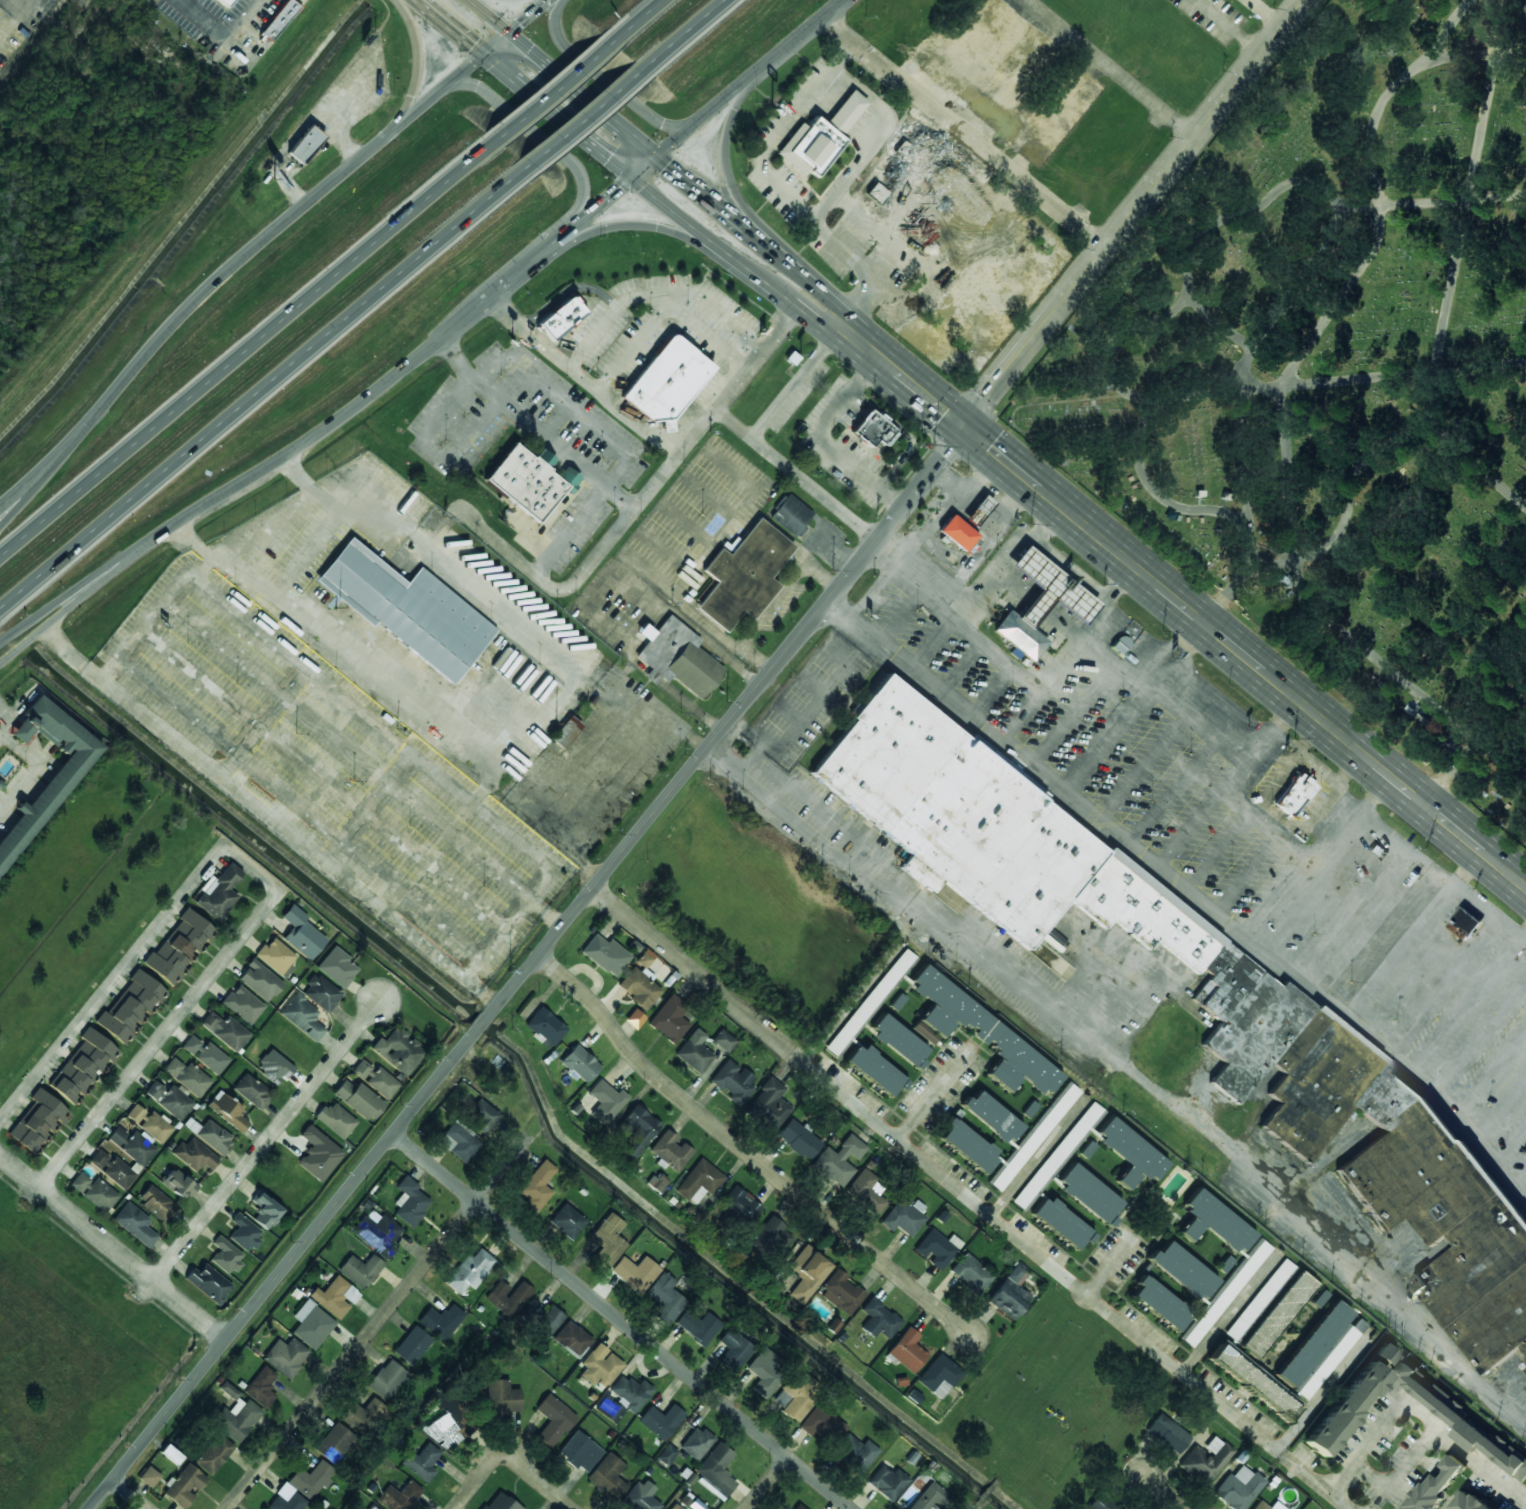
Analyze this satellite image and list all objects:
road: (562, 1)
building: (224, 2)
road: (488, 16)
road: (529, 16)
building: (281, 18)
road: (634, 20)
traffic signals: (520, 25)
road: (684, 34)
road: (222, 35)
road: (795, 39)
road: (496, 44)
traffic signals: (473, 48)
traffic signals: (530, 50)
road: (1459, 55)
road: (415, 59)
road: (1113, 69)
road: (603, 81)
road: (521, 88)
road: (737, 88)
road: (551, 89)
road: (743, 93)
building: (969, 95)
road: (1483, 109)
road: (584, 118)
road: (688, 126)
road: (1370, 127)
road: (622, 130)
road: (965, 133)
building: (819, 138)
road: (546, 139)
building: (306, 145)
traffic signals: (607, 161)
traffic signals: (667, 166)
road: (763, 169)
road: (726, 173)
building: (920, 183)
road: (1008, 186)
traffic signals: (619, 190)
road: (1496, 194)
road: (609, 197)
road: (659, 203)
road: (622, 226)
road: (698, 234)
road: (696, 239)
road: (248, 257)
road: (785, 260)
road: (741, 267)
road: (520, 268)
road: (1027, 282)
road: (793, 305)
road: (835, 312)
building: (561, 317)
road: (826, 323)
road: (1440, 329)
road: (246, 342)
park: (1332, 376)
building: (666, 382)
road: (263, 390)
traffic signals: (965, 427)
building: (874, 430)
road: (977, 479)
building: (525, 482)
road: (242, 487)
road: (17, 494)
road: (17, 500)
building: (977, 511)
road: (927, 513)
building: (791, 515)
building: (957, 533)
road: (985, 543)
road: (943, 547)
road: (1054, 556)
road: (992, 572)
building: (743, 576)
building: (1049, 589)
road: (871, 591)
road: (1183, 604)
building: (408, 610)
road: (44, 615)
road: (901, 617)
building: (1019, 636)
road: (930, 643)
building: (678, 659)
road: (1012, 668)
road: (961, 669)
road: (1146, 674)
road: (991, 693)
road: (1017, 714)
road: (1074, 720)
road: (1235, 726)
road: (1115, 731)
building: (565, 733)
road: (1475, 737)
road: (700, 754)
road: (1150, 759)
road: (1317, 767)
road: (1350, 767)
building: (60, 780)
road: (1178, 783)
building: (1293, 796)
road: (1242, 810)
road: (1190, 832)
road: (1118, 838)
road: (1216, 853)
road: (1470, 867)
road: (1244, 875)
road: (1443, 876)
building: (219, 893)
building: (1465, 923)
building: (302, 933)
building: (180, 947)
building: (606, 955)
building: (277, 957)
building: (645, 958)
building: (337, 967)
building: (261, 981)
road: (112, 984)
building: (321, 993)
building: (870, 1002)
building: (898, 1002)
building: (243, 1005)
building: (131, 1007)
road: (183, 1011)
building: (303, 1017)
building: (635, 1019)
building: (669, 1020)
building: (1257, 1023)
building: (545, 1027)
building: (225, 1030)
building: (925, 1033)
building: (983, 1035)
building: (724, 1041)
building: (899, 1042)
building: (398, 1051)
building: (695, 1052)
building: (206, 1055)
road: (1392, 1055)
building: (579, 1064)
building: (82, 1067)
building: (273, 1067)
road: (1128, 1069)
building: (876, 1071)
building: (188, 1077)
building: (376, 1079)
building: (734, 1082)
building: (253, 1091)
building: (170, 1100)
building: (359, 1100)
building: (606, 1102)
building: (770, 1104)
building: (228, 1111)
building: (483, 1116)
building: (990, 1116)
building: (335, 1120)
building: (37, 1121)
building: (150, 1123)
building: (637, 1131)
building: (213, 1136)
building: (1035, 1137)
building: (799, 1140)
road: (268, 1141)
building: (459, 1142)
building: (133, 1145)
building: (967, 1146)
building: (671, 1150)
building: (318, 1154)
road: (738, 1154)
building: (195, 1155)
building: (1057, 1155)
building: (1131, 1155)
building: (839, 1160)
building: (112, 1169)
building: (656, 1182)
building: (179, 1184)
building: (537, 1186)
building: (95, 1192)
building: (865, 1192)
building: (1089, 1194)
road: (971, 1198)
building: (410, 1202)
building: (157, 1203)
building: (740, 1206)
building: (265, 1210)
building: (904, 1217)
building: (568, 1222)
building: (1213, 1222)
building: (135, 1224)
building: (1062, 1224)
building: (377, 1232)
building: (244, 1233)
building: (770, 1237)
building: (608, 1241)
road: (112, 1248)
building: (937, 1249)
building: (226, 1256)
building: (360, 1271)
building: (470, 1271)
building: (1183, 1271)
building: (635, 1273)
building: (807, 1273)
building: (971, 1274)
building: (209, 1283)
building: (842, 1293)
building: (1225, 1293)
building: (1009, 1294)
building: (335, 1297)
building: (508, 1297)
building: (665, 1299)
building: (1260, 1300)
building: (1159, 1303)
building: (1277, 1315)
building: (879, 1320)
road: (380, 1321)
building: (441, 1321)
building: (549, 1321)
road: (622, 1321)
building: (312, 1324)
building: (698, 1326)
building: (573, 1339)
building: (412, 1346)
building: (734, 1349)
building: (1319, 1350)
building: (907, 1351)
building: (286, 1356)
road: (277, 1363)
building: (600, 1366)
building: (939, 1374)
building: (763, 1377)
building: (387, 1379)
building: (1252, 1383)
building: (262, 1387)
building: (229, 1391)
building: (631, 1393)
building: (914, 1396)
building: (503, 1397)
building: (797, 1397)
building: (1350, 1401)
park: (1055, 1404)
building: (610, 1410)
road: (1418, 1414)
building: (362, 1416)
building: (239, 1419)
building: (553, 1420)
building: (662, 1421)
building: (1459, 1421)
building: (822, 1423)
building: (1168, 1434)
building: (334, 1443)
building: (697, 1444)
building: (580, 1452)
building: (856, 1453)
building: (214, 1454)
building: (667, 1455)
building: (1206, 1461)
building: (422, 1463)
road: (1479, 1464)
building: (716, 1471)
building: (149, 1477)
building: (607, 1477)
building: (311, 1480)
road: (479, 1480)
road: (536, 1480)
building: (888, 1482)
road: (769, 1483)
building: (185, 1486)
building: (1436, 1486)
building: (1238, 1488)
road: (130, 1494)
road: (1161, 1494)
building: (400, 1496)
building: (930, 1497)
building: (640, 1499)
building: (288, 1502)
building: (500, 1502)
building: (1468, 1502)
building: (1099, 1504)
building: (1260, 1504)
building: (676, 1506)
building: (372, 1507)
building: (797, 1507)
road: (975, 1507)

